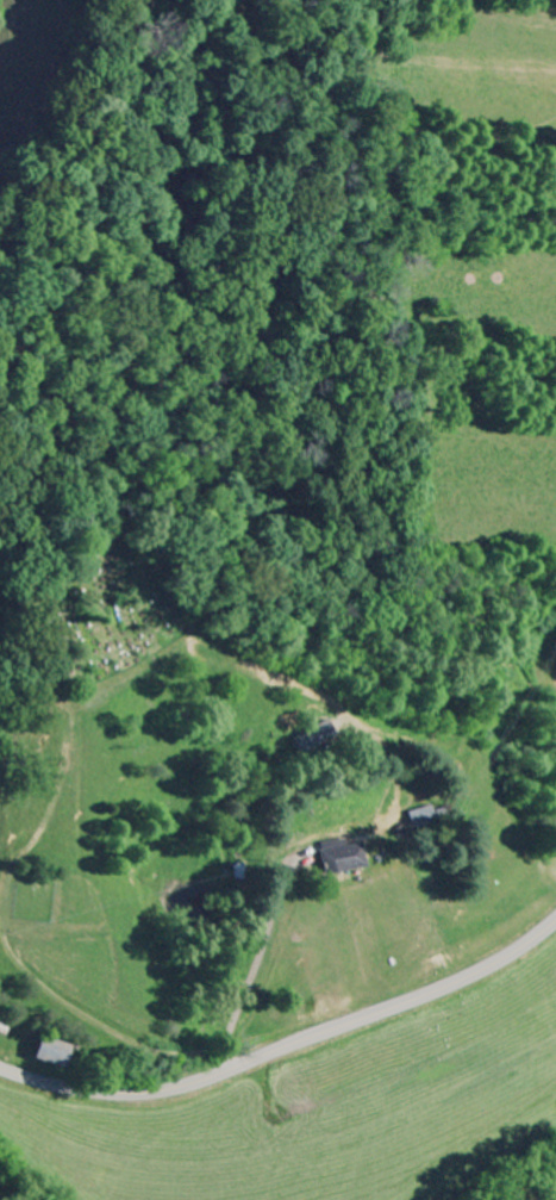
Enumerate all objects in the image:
building: (341, 858)
road: (80, 1015)
road: (286, 1047)
building: (51, 1053)
river: (544, 1193)
river: (1, 1198)

